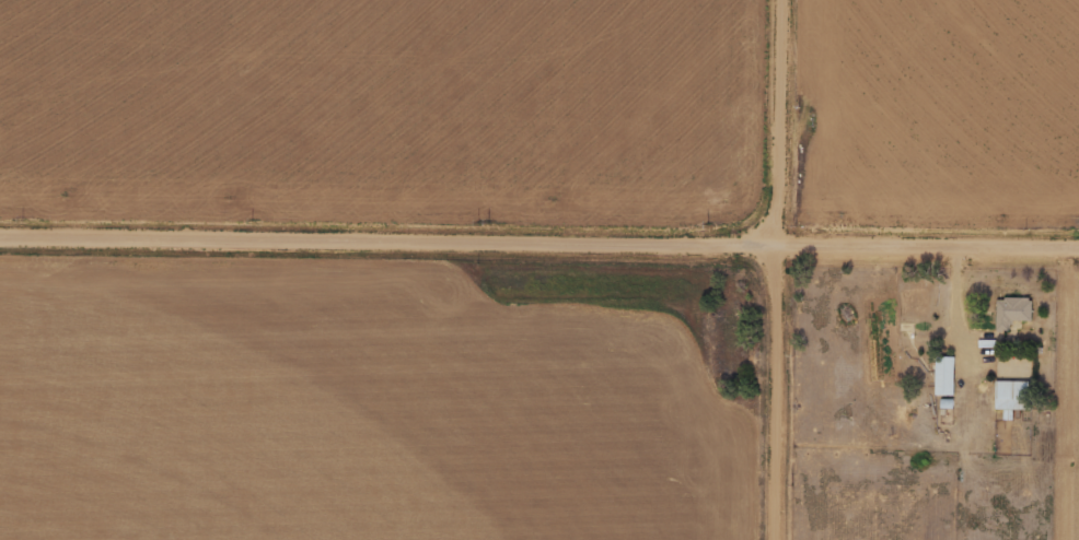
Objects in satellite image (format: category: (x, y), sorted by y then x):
road: (780, 120)
road: (539, 242)
building: (1014, 309)
building: (949, 375)
road: (775, 390)
building: (1017, 395)

